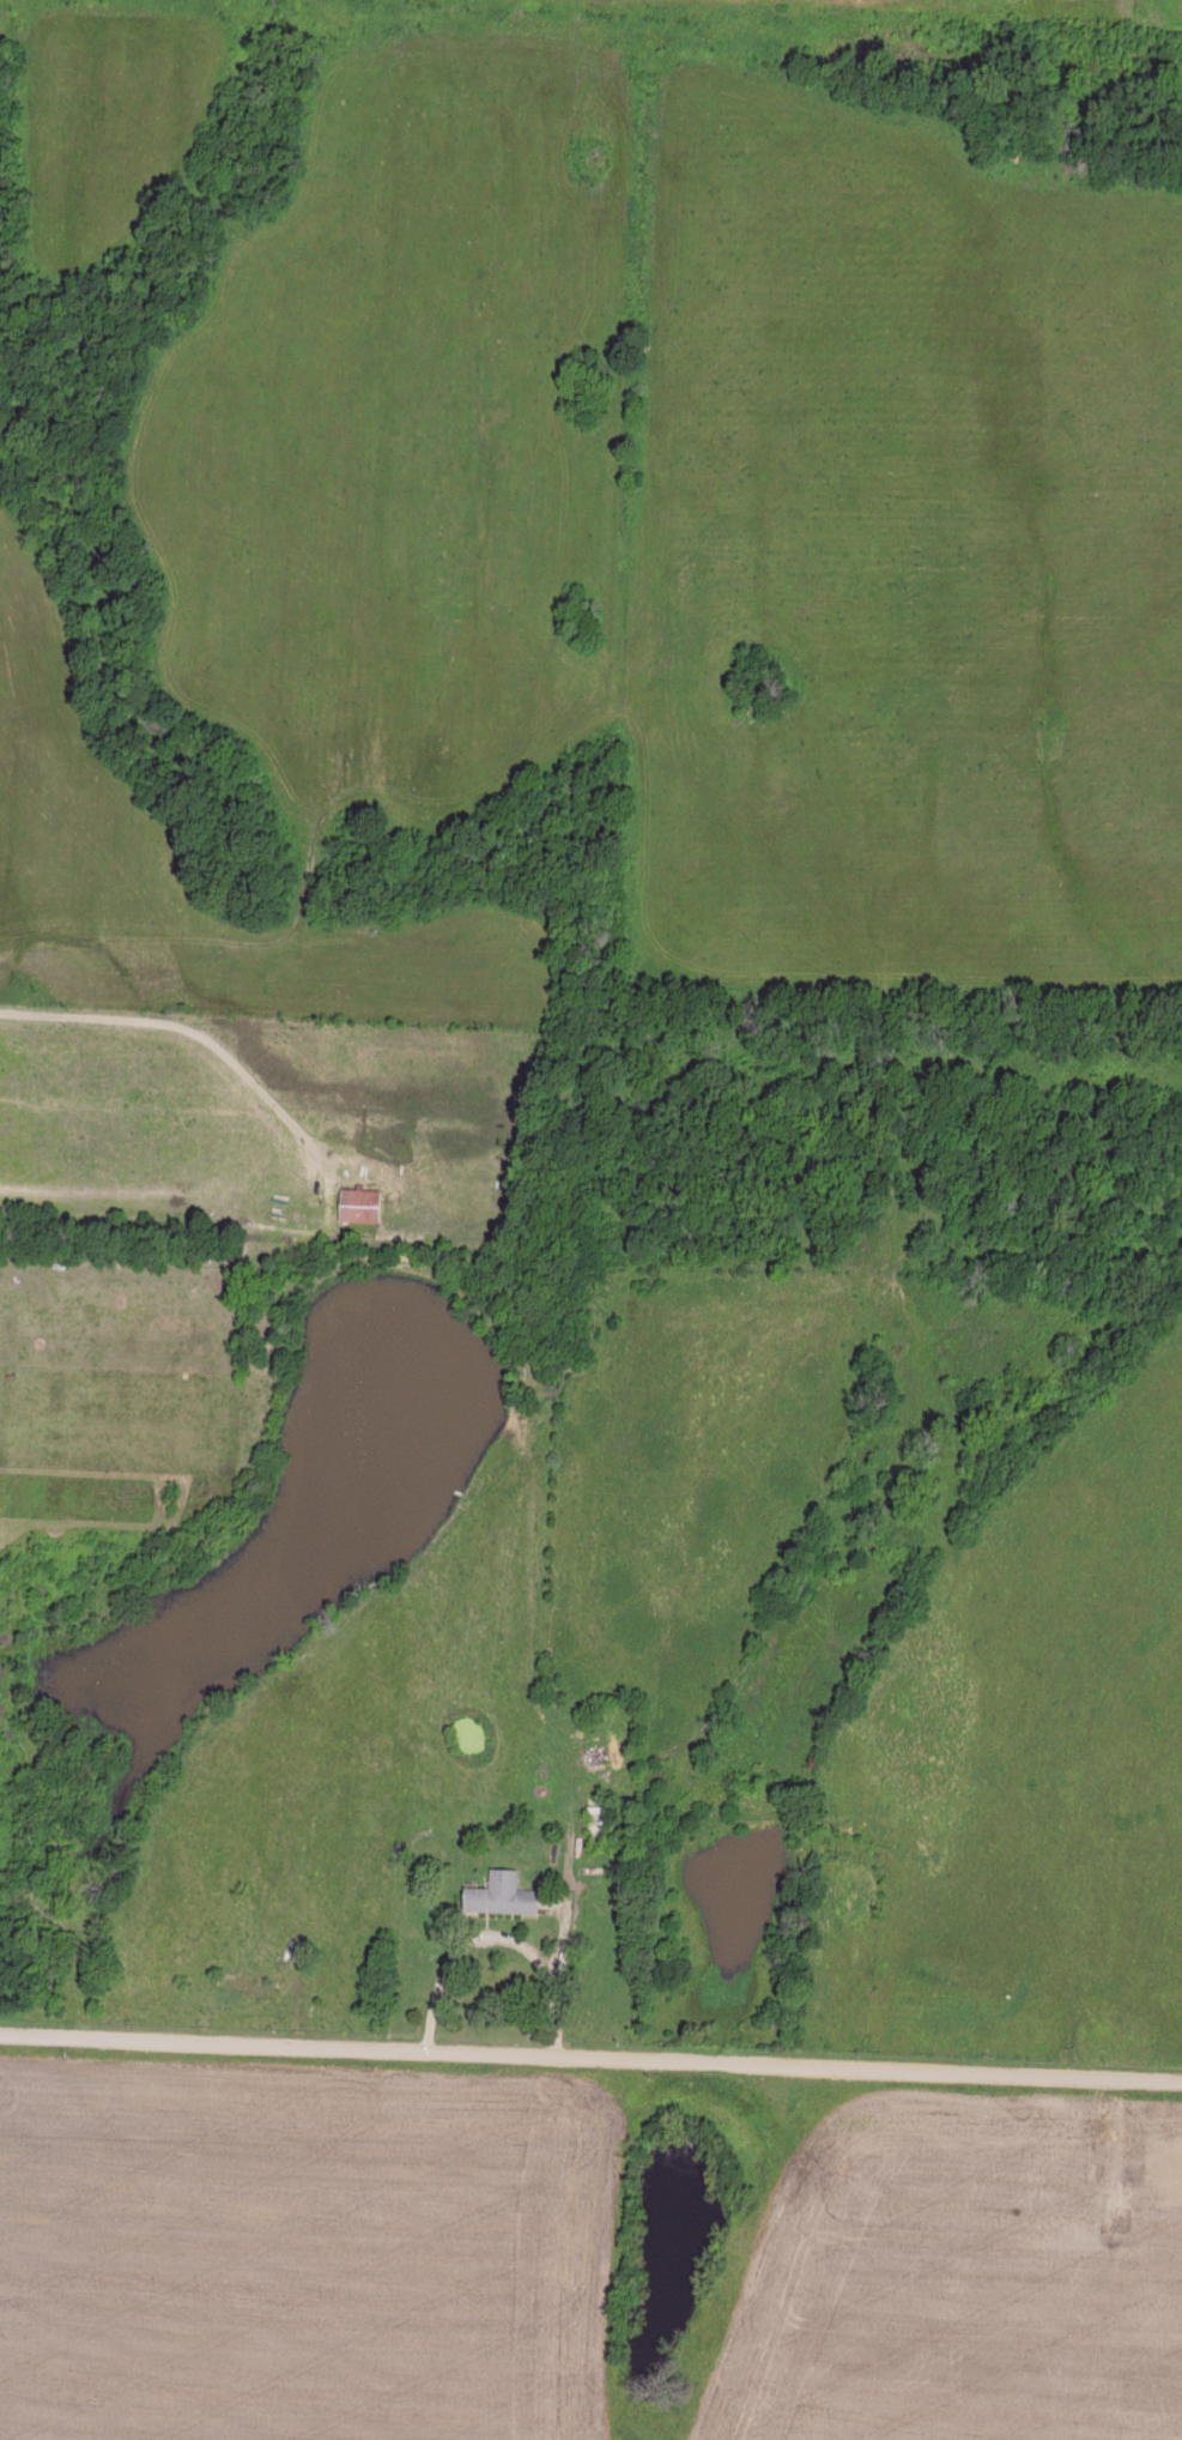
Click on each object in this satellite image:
building: (357, 1203)
building: (498, 1894)
road: (460, 1949)
road: (590, 2060)

